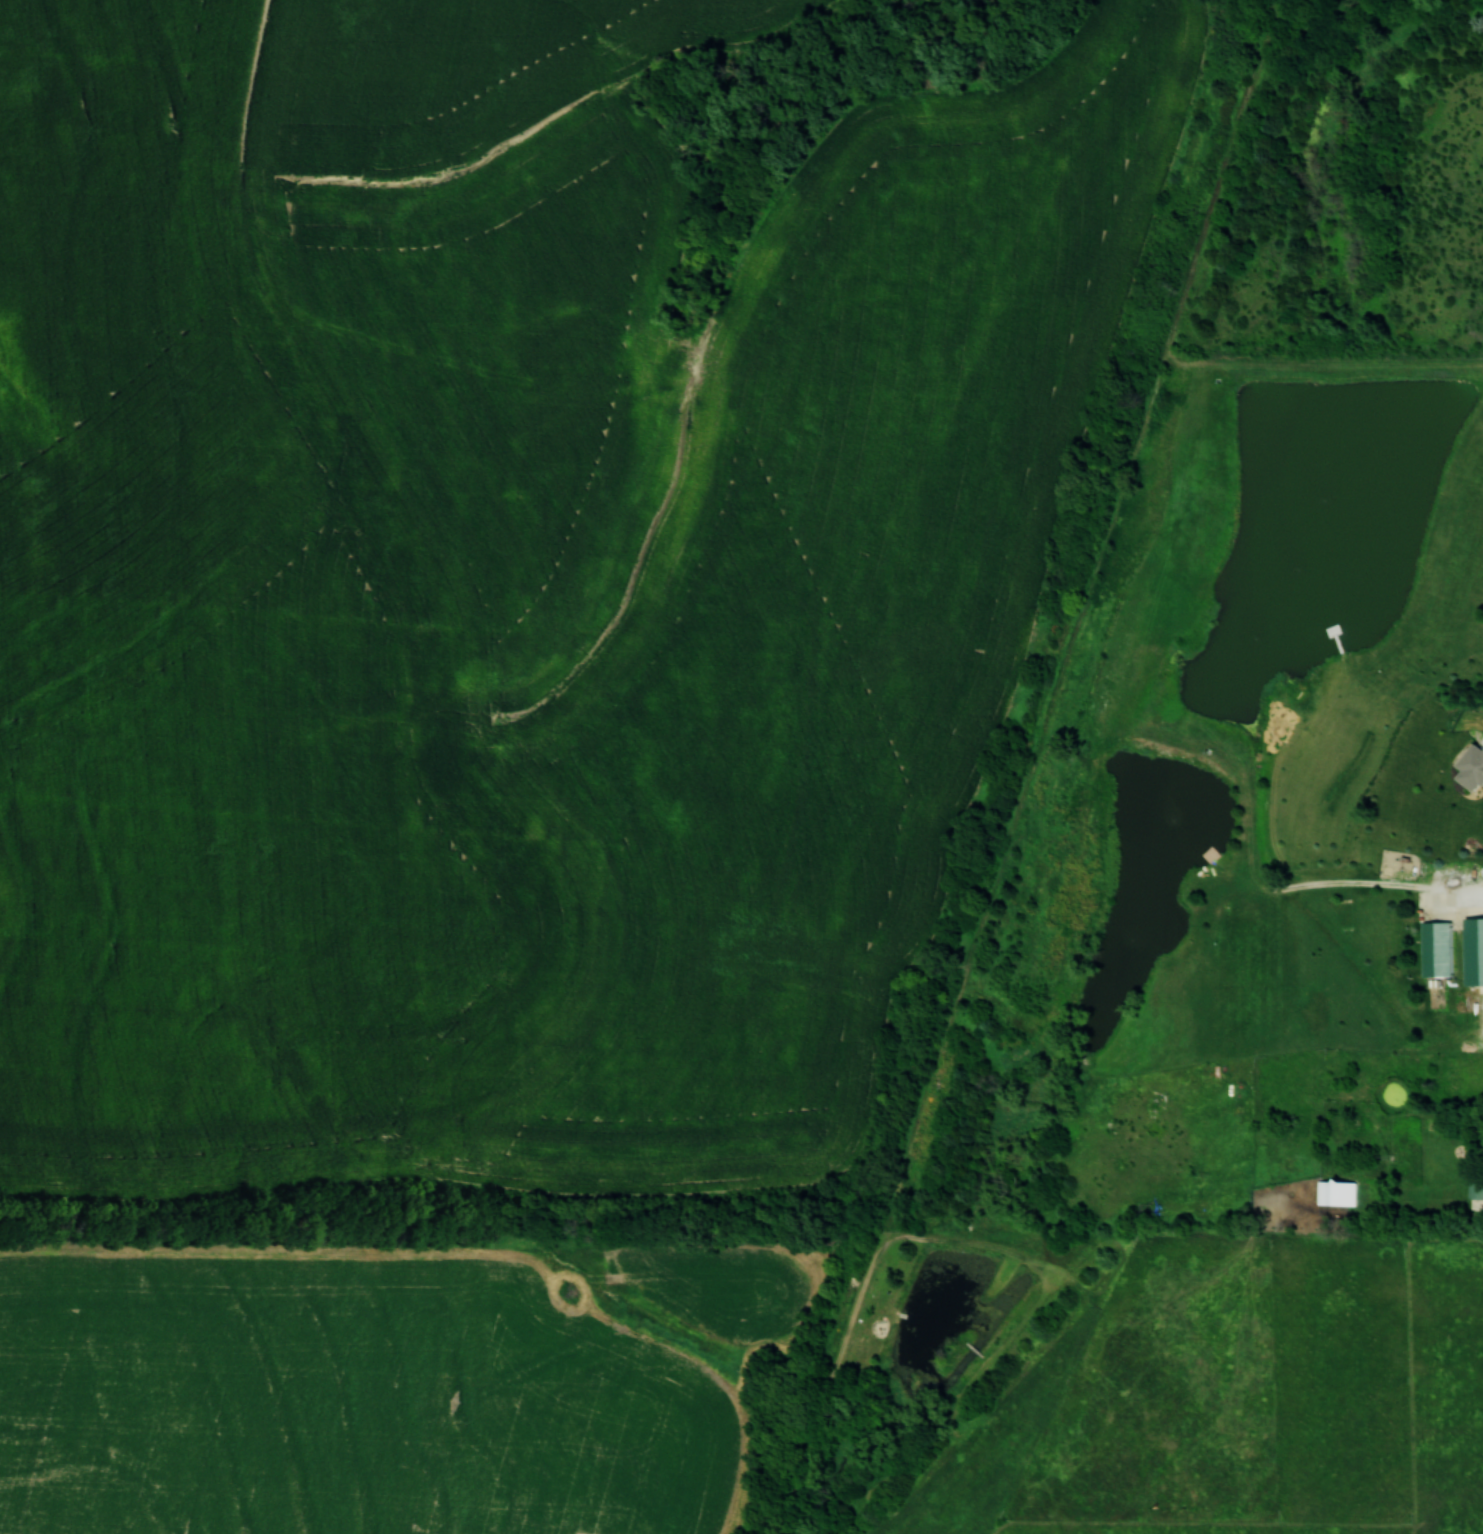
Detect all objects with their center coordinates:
building: (1471, 767)
building: (1437, 949)
building: (1474, 951)
building: (1475, 1190)
building: (1336, 1193)

